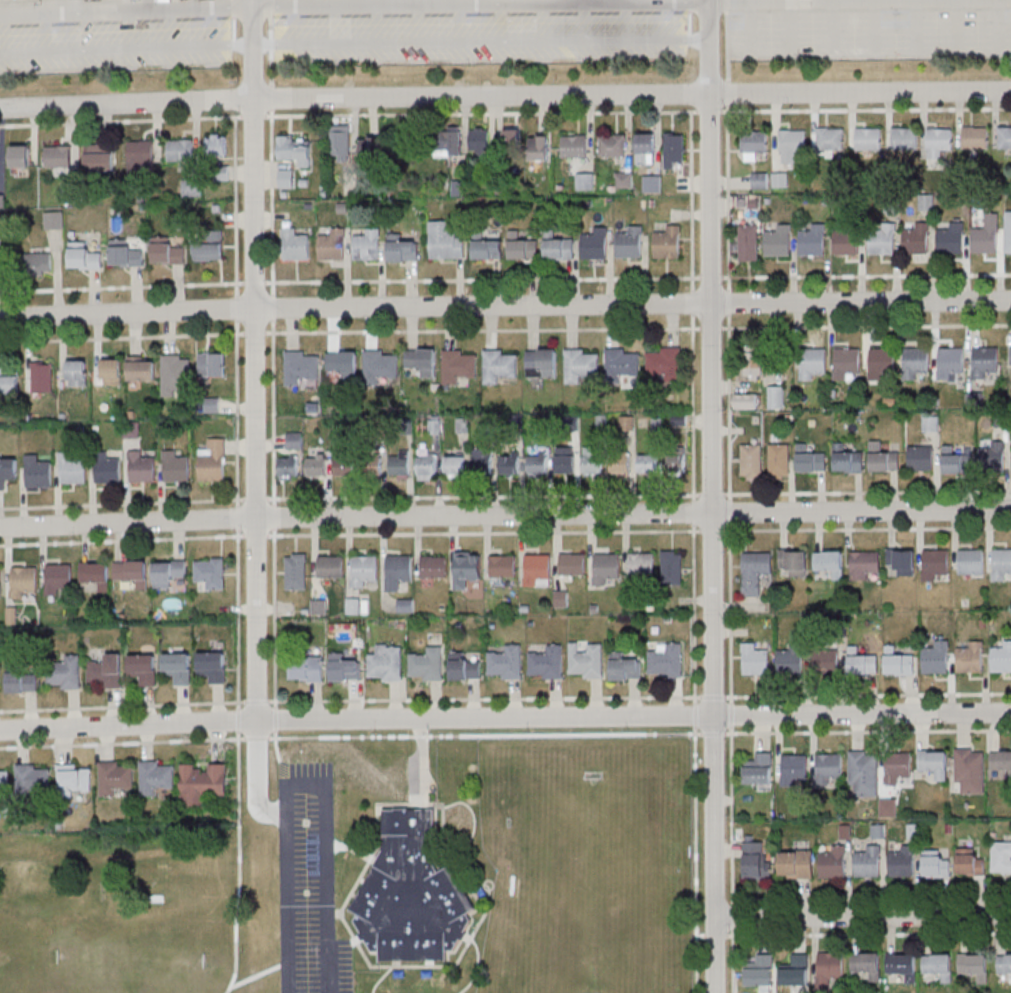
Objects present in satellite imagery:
road: (566, 1)
road: (575, 1)
road: (586, 1)
road: (602, 1)
road: (613, 1)
road: (627, 1)
road: (397, 4)
road: (726, 5)
road: (270, 8)
parking lot: (870, 33)
parking lot: (480, 37)
road: (727, 46)
parking lot: (116, 47)
road: (270, 51)
road: (727, 93)
road: (505, 94)
road: (271, 98)
road: (865, 110)
road: (709, 112)
road: (481, 114)
road: (252, 117)
road: (120, 121)
building: (975, 137)
building: (830, 138)
building: (867, 138)
building: (904, 138)
building: (1004, 138)
building: (513, 141)
building: (938, 141)
building: (449, 142)
building: (479, 142)
building: (340, 143)
building: (753, 143)
building: (791, 144)
building: (216, 145)
building: (612, 146)
building: (573, 147)
building: (539, 148)
building: (645, 148)
building: (673, 148)
building: (295, 149)
building: (181, 150)
building: (371, 150)
building: (19, 156)
building: (58, 156)
building: (141, 156)
building: (99, 158)
building: (285, 178)
building: (624, 180)
building: (759, 180)
building: (780, 180)
building: (585, 182)
building: (651, 184)
road: (728, 197)
road: (691, 201)
road: (271, 202)
road: (235, 206)
building: (54, 219)
building: (1008, 233)
building: (986, 235)
building: (444, 240)
building: (812, 240)
building: (881, 240)
building: (916, 240)
building: (778, 241)
building: (845, 241)
building: (949, 241)
building: (629, 242)
building: (748, 242)
building: (667, 243)
building: (295, 244)
building: (366, 244)
building: (595, 244)
building: (332, 245)
building: (210, 247)
building: (486, 247)
building: (522, 247)
building: (401, 248)
building: (559, 249)
building: (166, 251)
building: (124, 253)
building: (84, 256)
building: (0, 260)
building: (37, 262)
road: (865, 274)
road: (710, 277)
road: (481, 279)
road: (254, 283)
road: (122, 288)
road: (728, 302)
road: (691, 303)
road: (505, 304)
road: (272, 307)
road: (236, 309)
road: (866, 326)
road: (710, 328)
road: (482, 330)
road: (254, 334)
road: (121, 339)
building: (1010, 356)
road: (255, 360)
building: (421, 361)
building: (915, 362)
building: (541, 363)
building: (755, 363)
building: (811, 363)
building: (880, 363)
building: (984, 363)
building: (211, 364)
building: (342, 364)
building: (664, 364)
building: (846, 364)
building: (950, 364)
building: (458, 365)
building: (499, 365)
building: (581, 365)
building: (622, 365)
building: (177, 366)
building: (301, 366)
building: (379, 367)
building: (140, 368)
building: (111, 371)
building: (75, 372)
building: (39, 376)
building: (9, 378)
building: (775, 397)
building: (746, 400)
building: (211, 405)
road: (728, 407)
road: (691, 408)
road: (272, 412)
road: (236, 413)
building: (930, 423)
building: (294, 440)
building: (993, 457)
building: (482, 458)
building: (882, 458)
building: (920, 458)
building: (779, 459)
building: (847, 459)
building: (212, 460)
building: (564, 460)
building: (591, 460)
building: (751, 460)
building: (809, 460)
building: (674, 462)
building: (955, 462)
building: (619, 463)
building: (647, 463)
building: (399, 464)
building: (454, 465)
building: (508, 465)
building: (537, 465)
building: (288, 466)
building: (316, 466)
building: (344, 466)
building: (372, 466)
building: (426, 466)
building: (175, 467)
building: (107, 468)
building: (141, 468)
building: (73, 470)
building: (7, 471)
building: (38, 471)
road: (867, 492)
road: (711, 495)
road: (712, 496)
road: (483, 497)
road: (255, 500)
road: (121, 504)
road: (729, 512)
road: (692, 513)
road: (505, 514)
road: (273, 517)
road: (237, 518)
road: (866, 529)
road: (711, 531)
road: (483, 533)
road: (255, 536)
road: (121, 540)
building: (901, 560)
building: (970, 561)
building: (794, 562)
building: (828, 562)
building: (572, 563)
building: (641, 563)
building: (864, 564)
building: (935, 564)
building: (1001, 564)
building: (503, 565)
building: (330, 566)
building: (433, 566)
building: (605, 567)
building: (671, 567)
building: (467, 568)
building: (364, 569)
building: (537, 569)
building: (130, 571)
building: (296, 571)
building: (397, 571)
building: (754, 571)
building: (211, 572)
building: (167, 573)
building: (95, 574)
building: (57, 577)
building: (0, 580)
building: (22, 581)
building: (561, 598)
road: (693, 614)
road: (730, 614)
road: (274, 618)
road: (238, 619)
building: (970, 657)
building: (1001, 657)
building: (935, 658)
building: (790, 659)
building: (586, 660)
building: (666, 660)
building: (754, 660)
building: (826, 660)
building: (859, 661)
building: (386, 662)
building: (505, 662)
building: (545, 663)
building: (899, 664)
building: (212, 666)
building: (426, 666)
building: (464, 666)
building: (624, 666)
building: (178, 667)
building: (343, 667)
building: (143, 668)
building: (306, 668)
building: (106, 672)
building: (65, 673)
building: (21, 678)
road: (867, 695)
road: (712, 697)
road: (484, 699)
road: (256, 702)
road: (122, 706)
road: (730, 714)
road: (694, 715)
road: (275, 718)
road: (505, 719)
road: (238, 720)
road: (867, 732)
road: (712, 734)
road: (484, 736)
road: (256, 738)
road: (121, 742)
road: (275, 746)
building: (1001, 760)
road: (424, 761)
building: (934, 762)
building: (897, 767)
building: (828, 768)
building: (758, 769)
building: (793, 769)
building: (970, 770)
building: (863, 772)
parking lot: (413, 775)
building: (117, 776)
building: (157, 777)
road: (257, 777)
building: (4, 778)
building: (33, 778)
building: (75, 778)
building: (201, 783)
road: (306, 785)
road: (433, 804)
building: (888, 807)
road: (730, 816)
road: (473, 822)
road: (353, 848)
building: (755, 858)
building: (1001, 858)
road: (694, 859)
building: (868, 860)
building: (832, 861)
building: (902, 862)
road: (238, 863)
building: (970, 863)
building: (795, 864)
building: (935, 864)
parking lot: (308, 883)
park: (594, 885)
building: (410, 893)
road: (871, 897)
park: (128, 910)
road: (334, 913)
road: (862, 915)
road: (731, 917)
road: (868, 933)
road: (699, 936)
road: (714, 936)
road: (347, 942)
road: (732, 961)
road: (476, 963)
building: (866, 964)
building: (901, 964)
building: (938, 965)
building: (973, 965)
road: (391, 967)
building: (829, 968)
building: (759, 970)
building: (795, 971)
road: (258, 973)
road: (380, 979)

